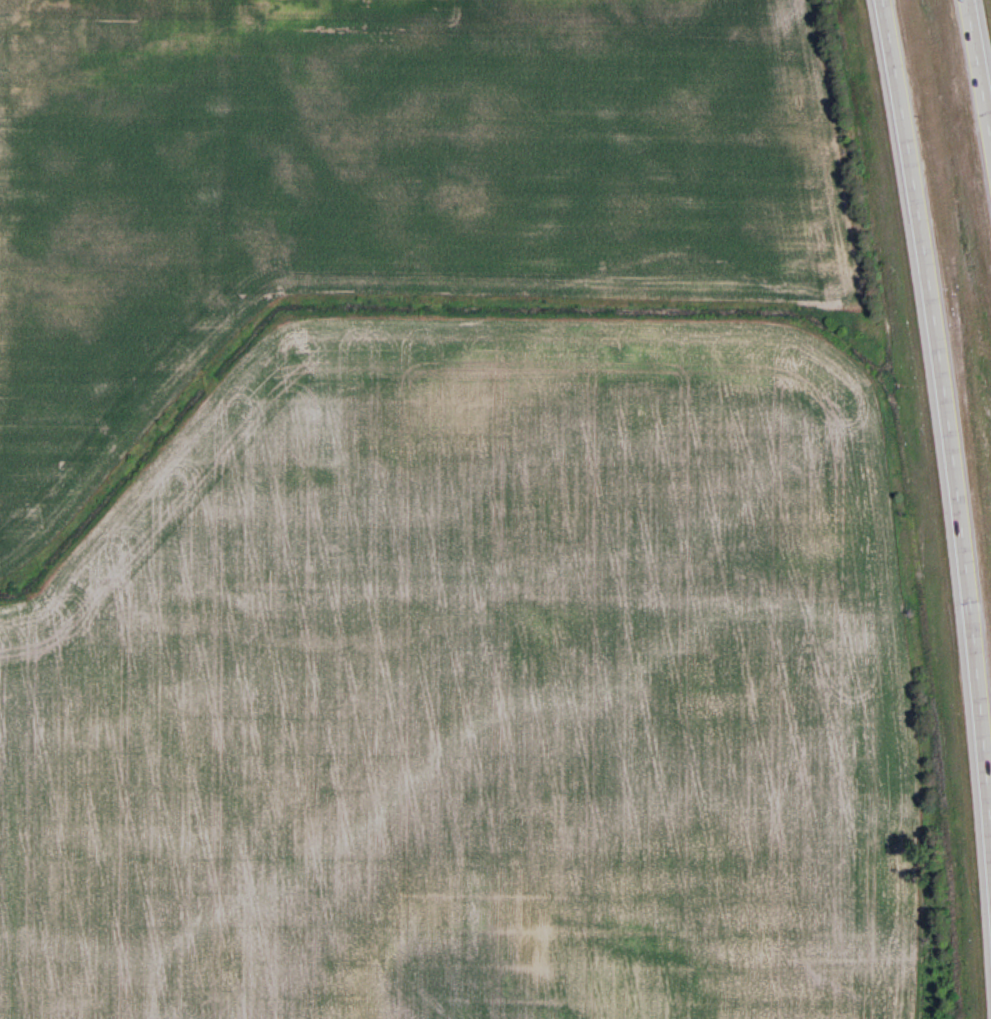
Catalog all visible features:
road: (979, 72)
road: (949, 434)

